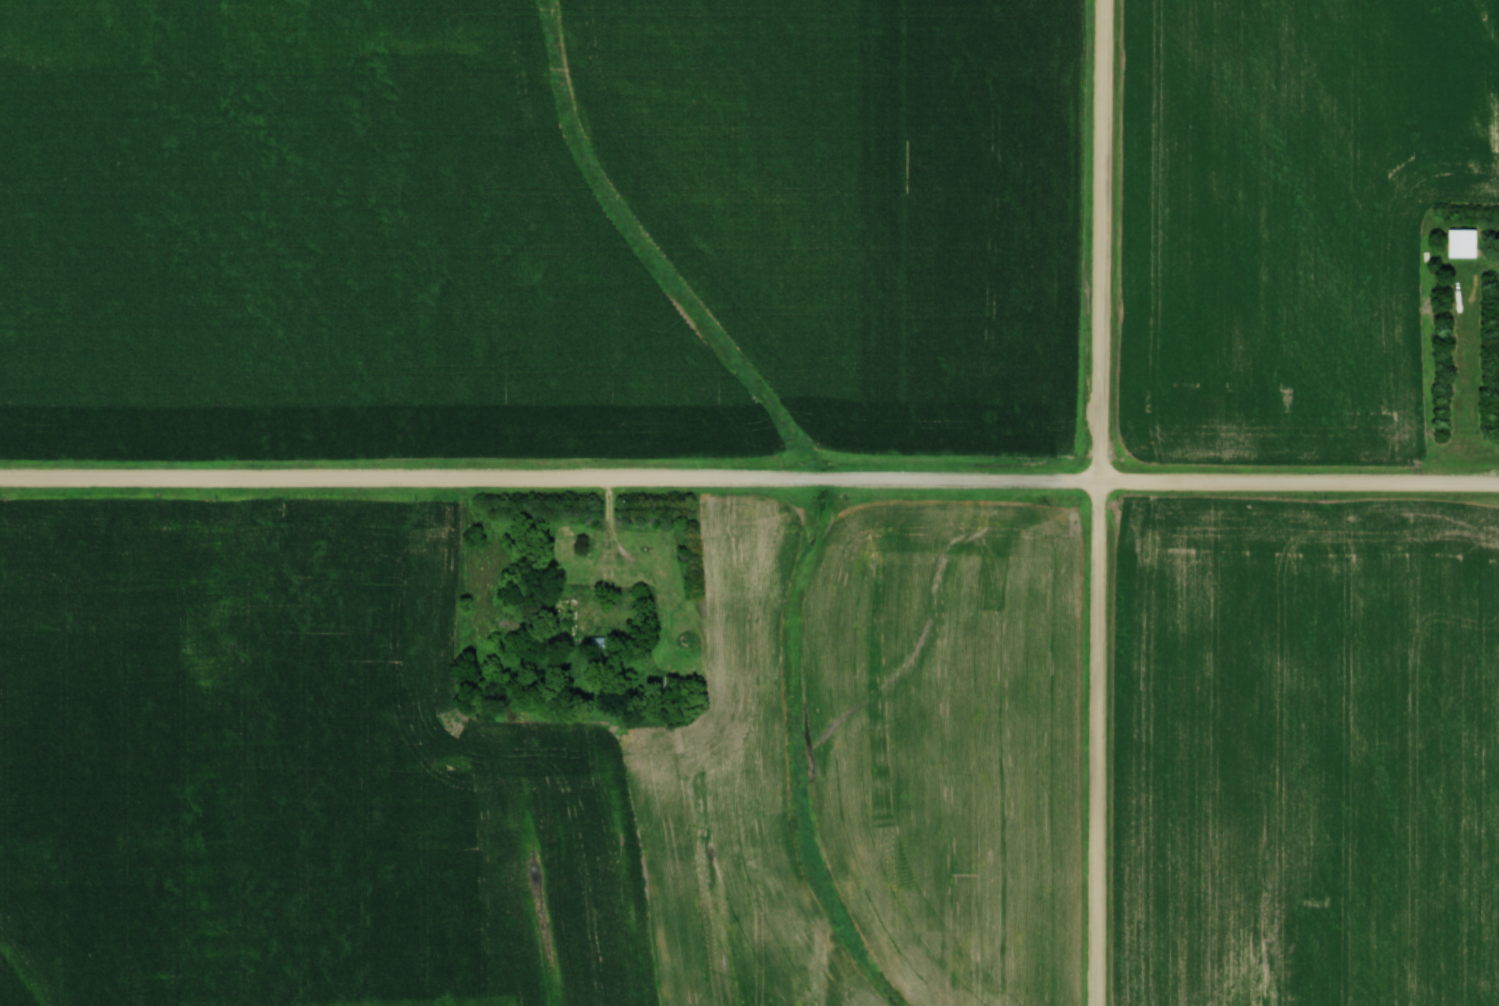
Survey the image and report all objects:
road: (749, 479)
road: (1100, 502)
road: (612, 543)
building: (560, 611)

